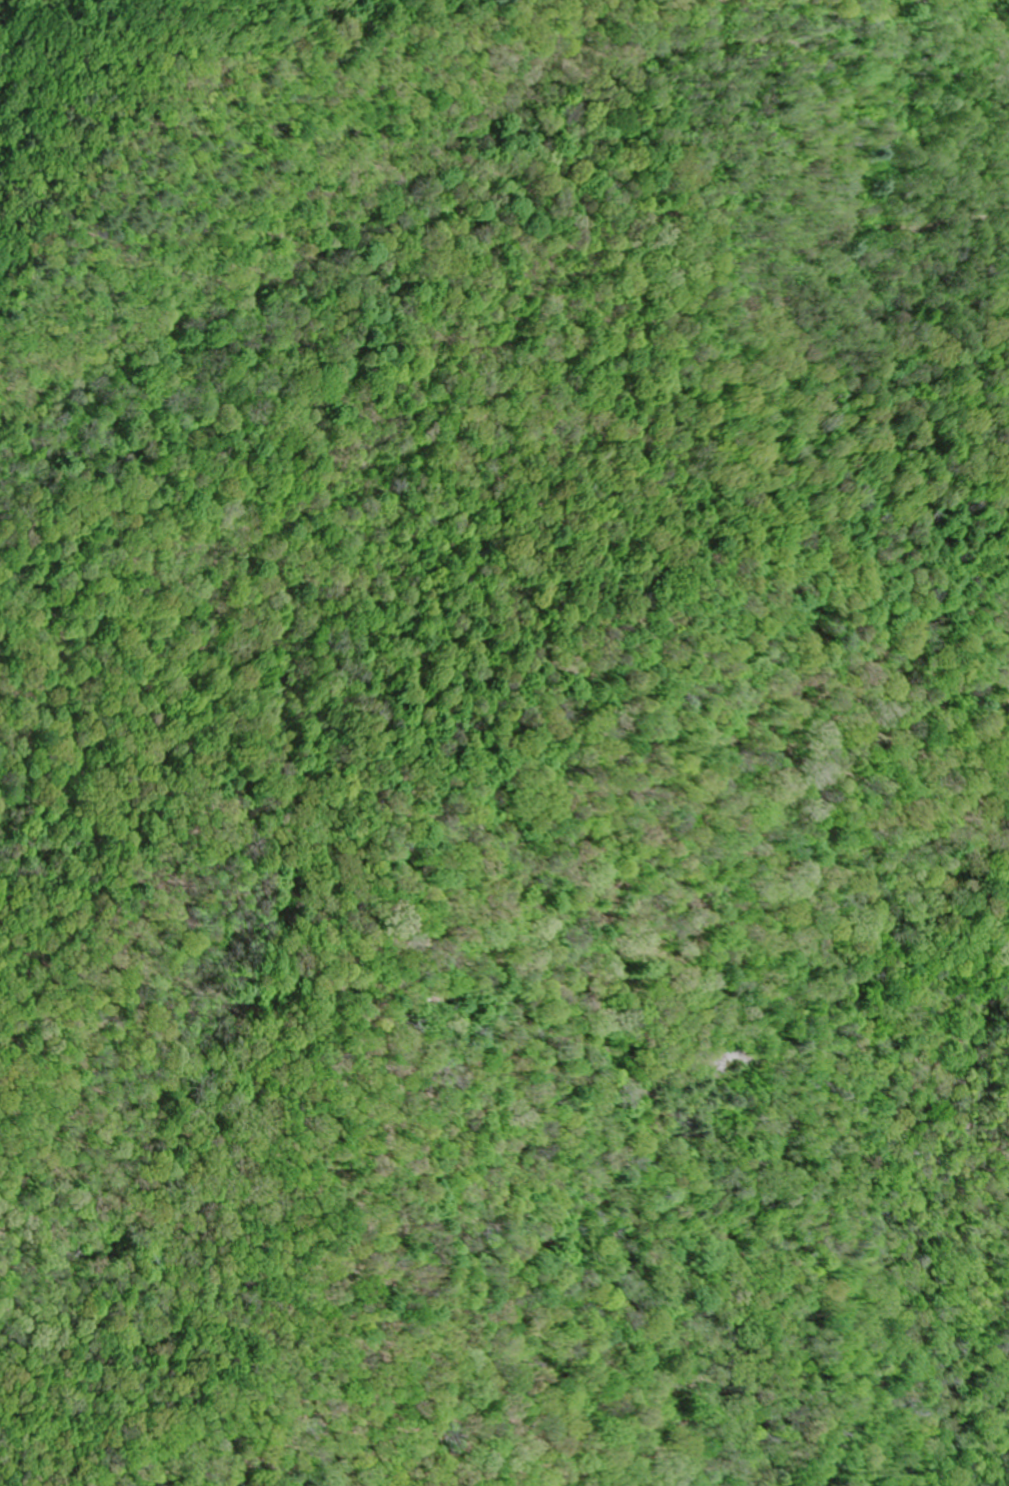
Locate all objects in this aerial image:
road: (999, 69)
road: (852, 140)
road: (372, 439)

